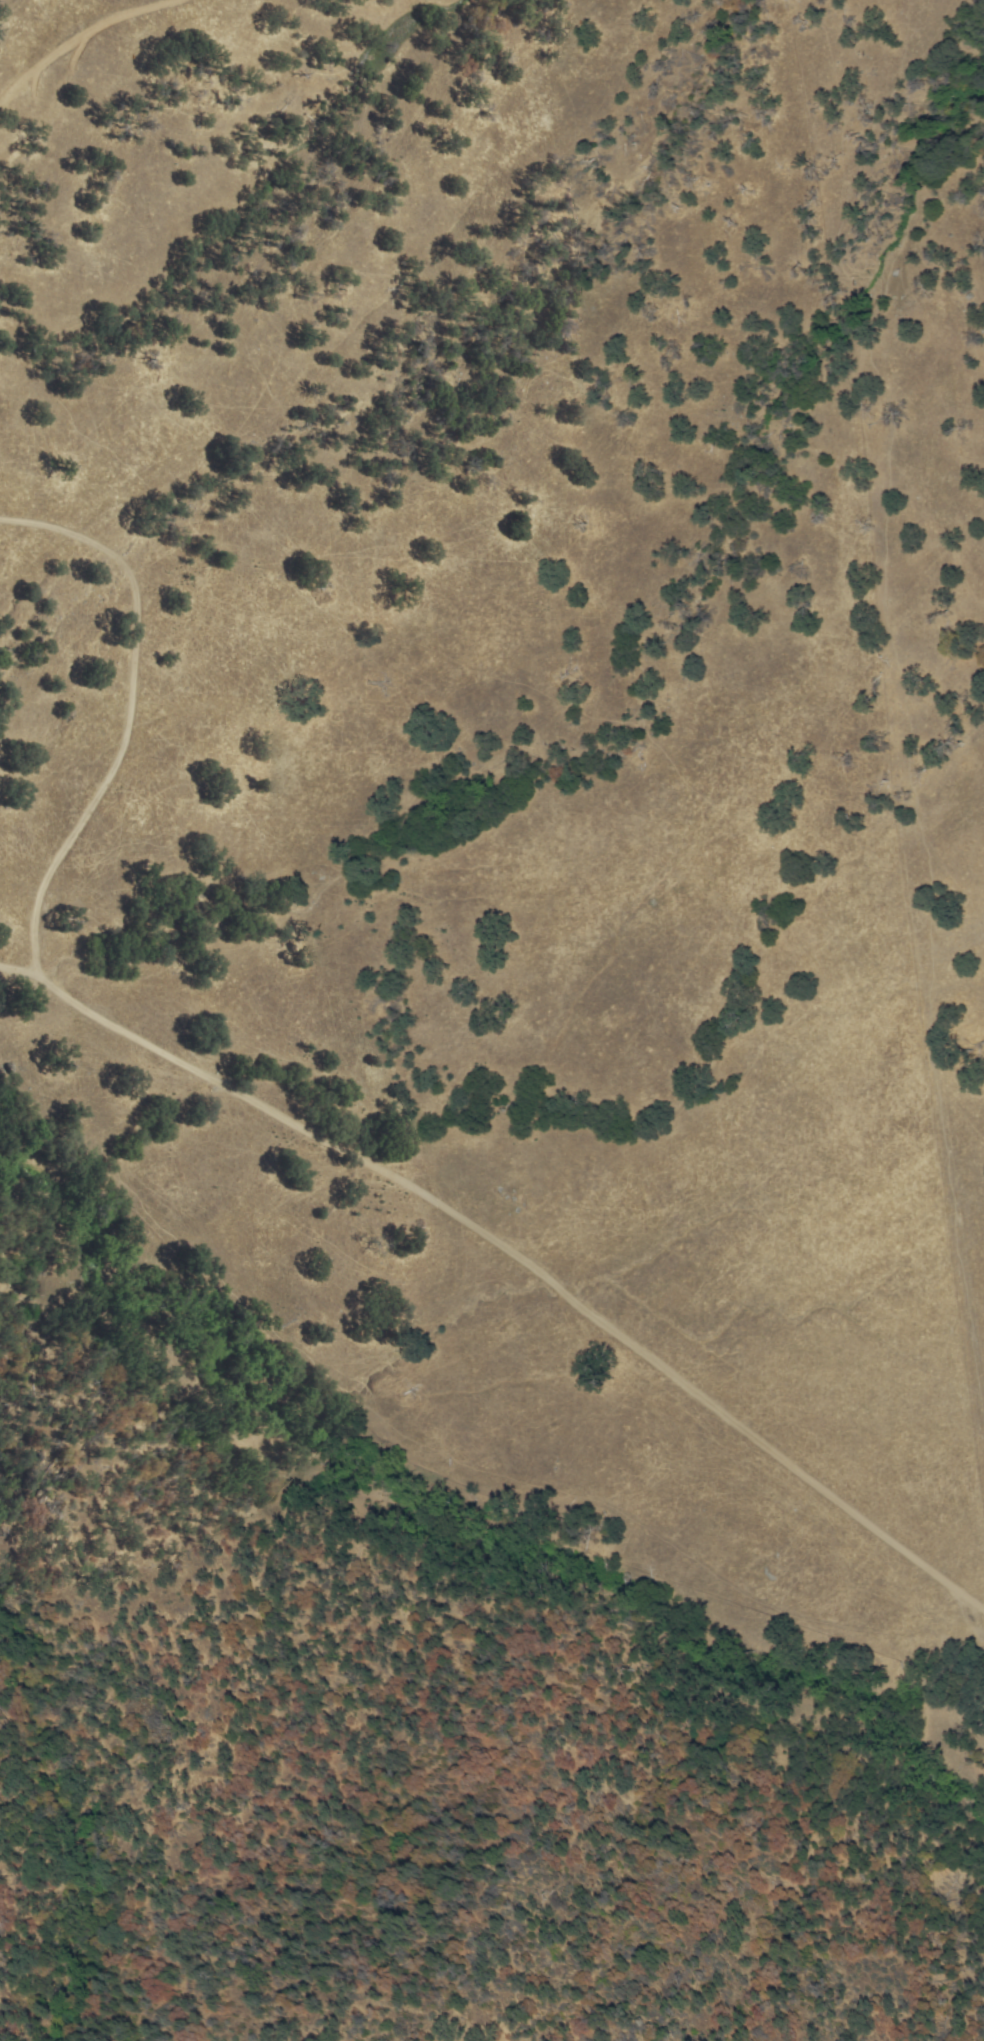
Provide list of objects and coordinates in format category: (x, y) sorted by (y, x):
road: (262, 436)
road: (511, 1255)

